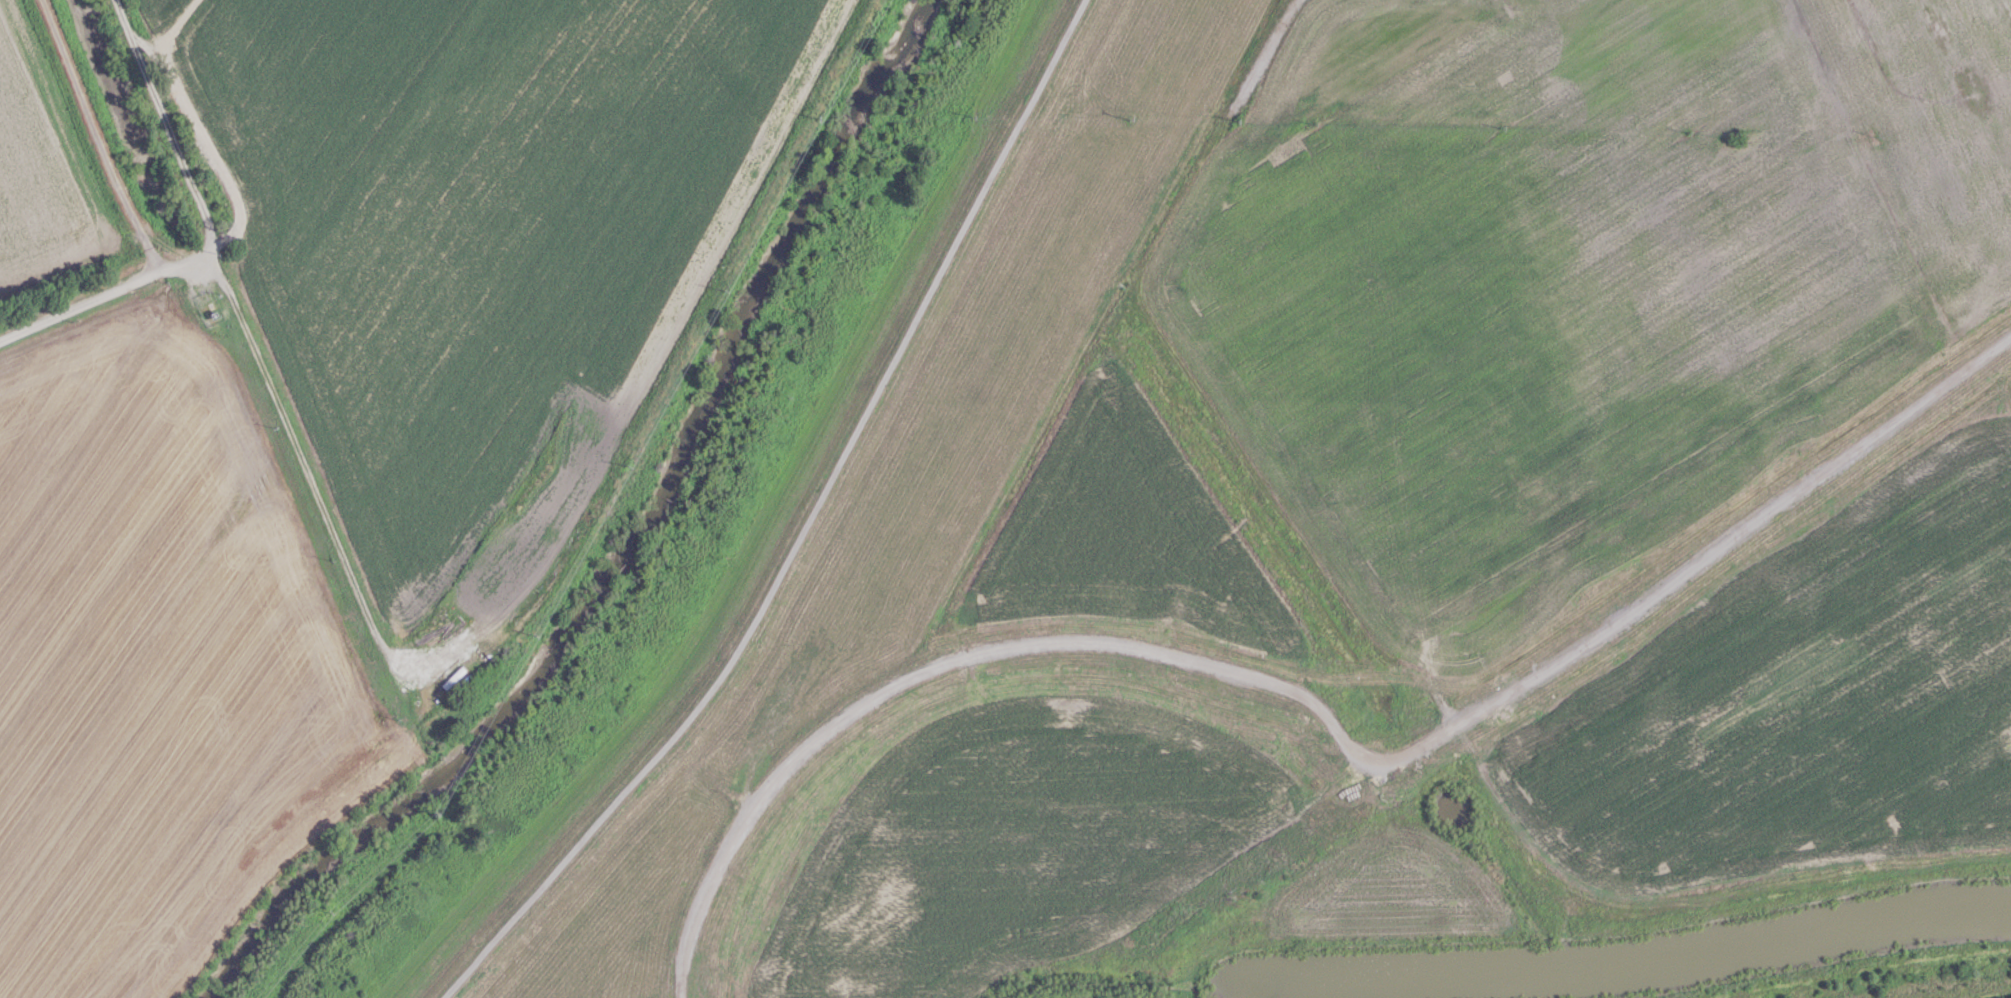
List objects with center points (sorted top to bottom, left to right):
road: (101, 297)
road: (1166, 302)
building: (1468, 365)
road: (313, 482)
road: (804, 526)
road: (1307, 697)

